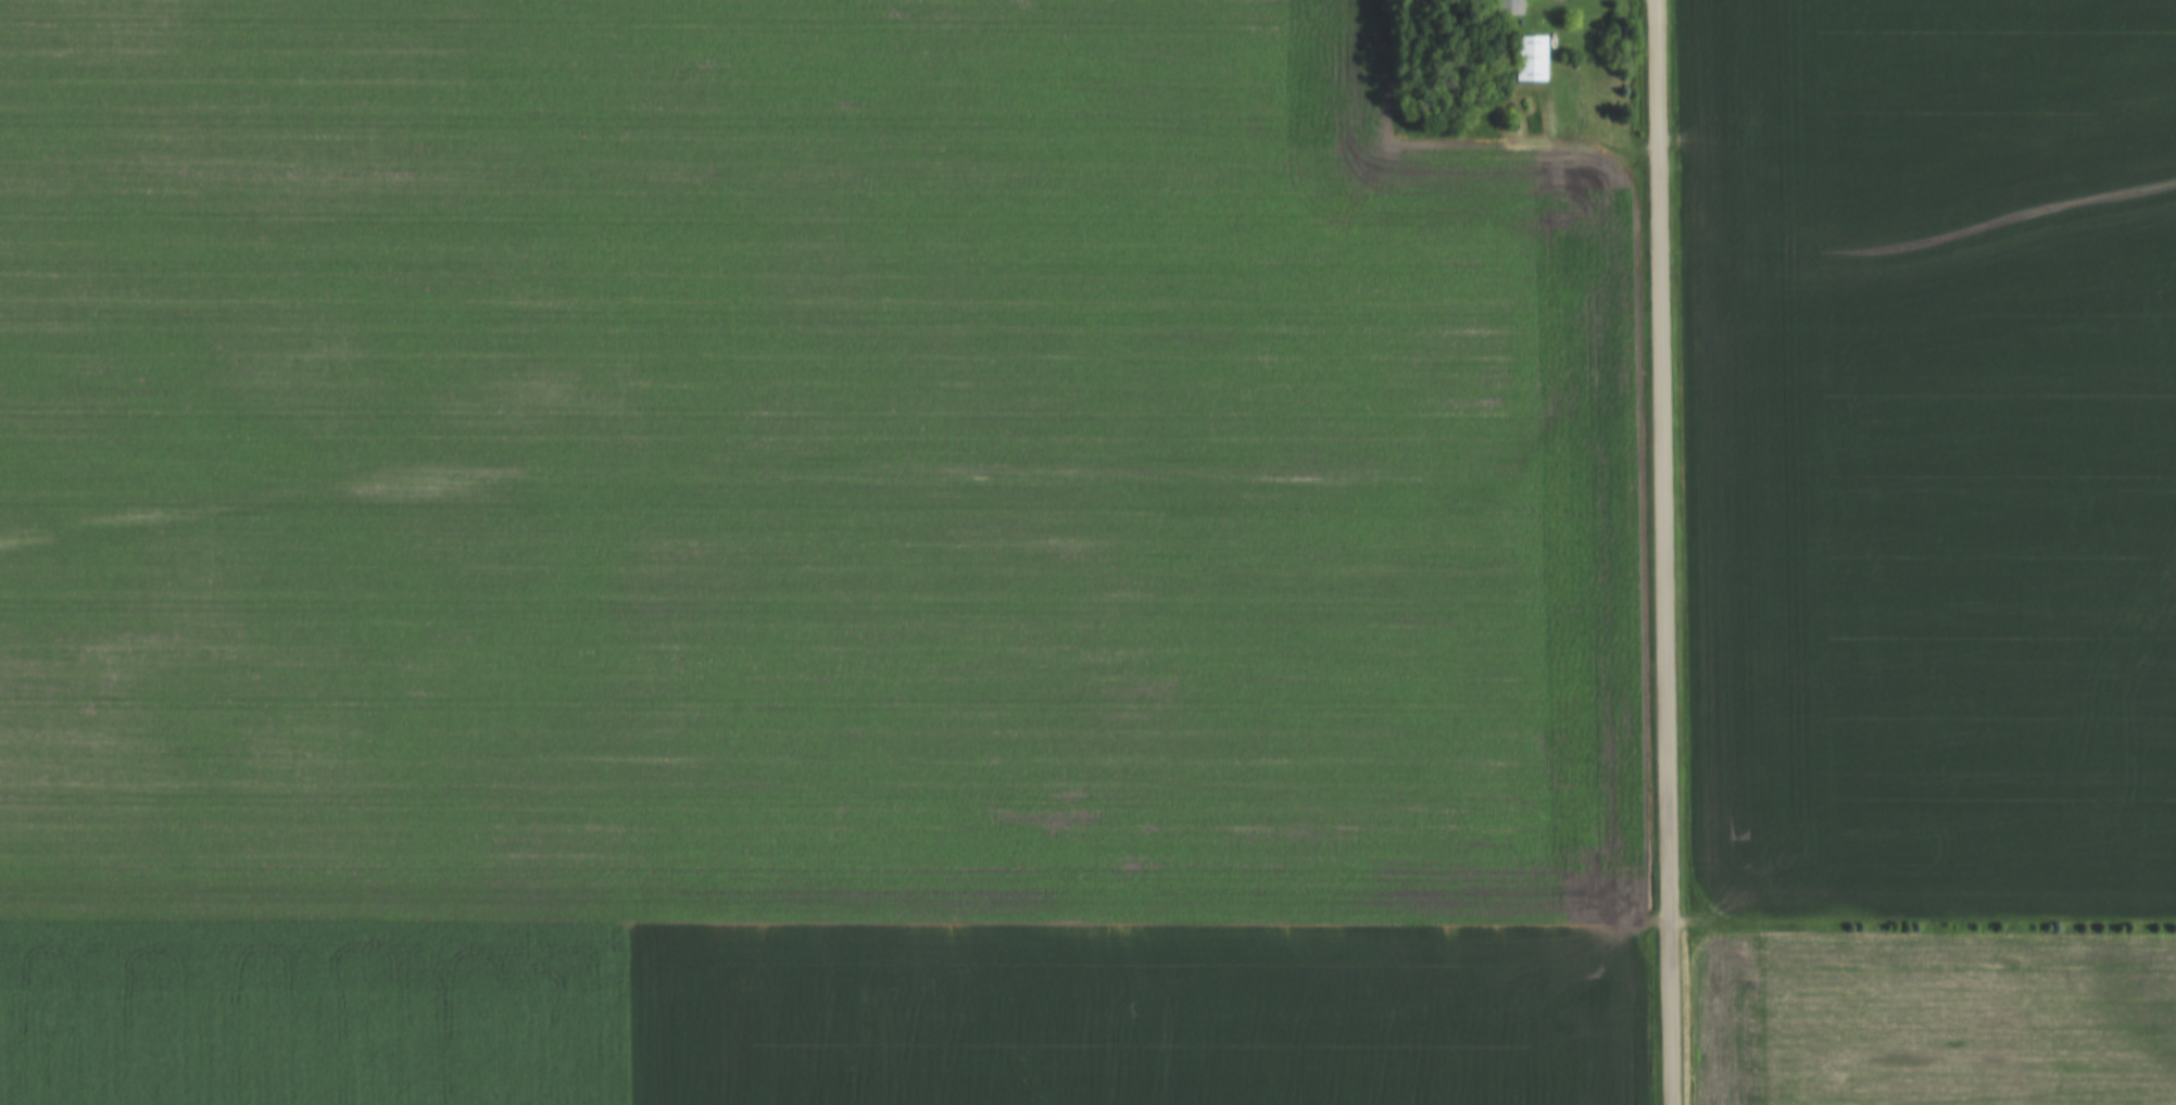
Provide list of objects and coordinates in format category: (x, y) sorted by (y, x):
road: (1663, 552)

